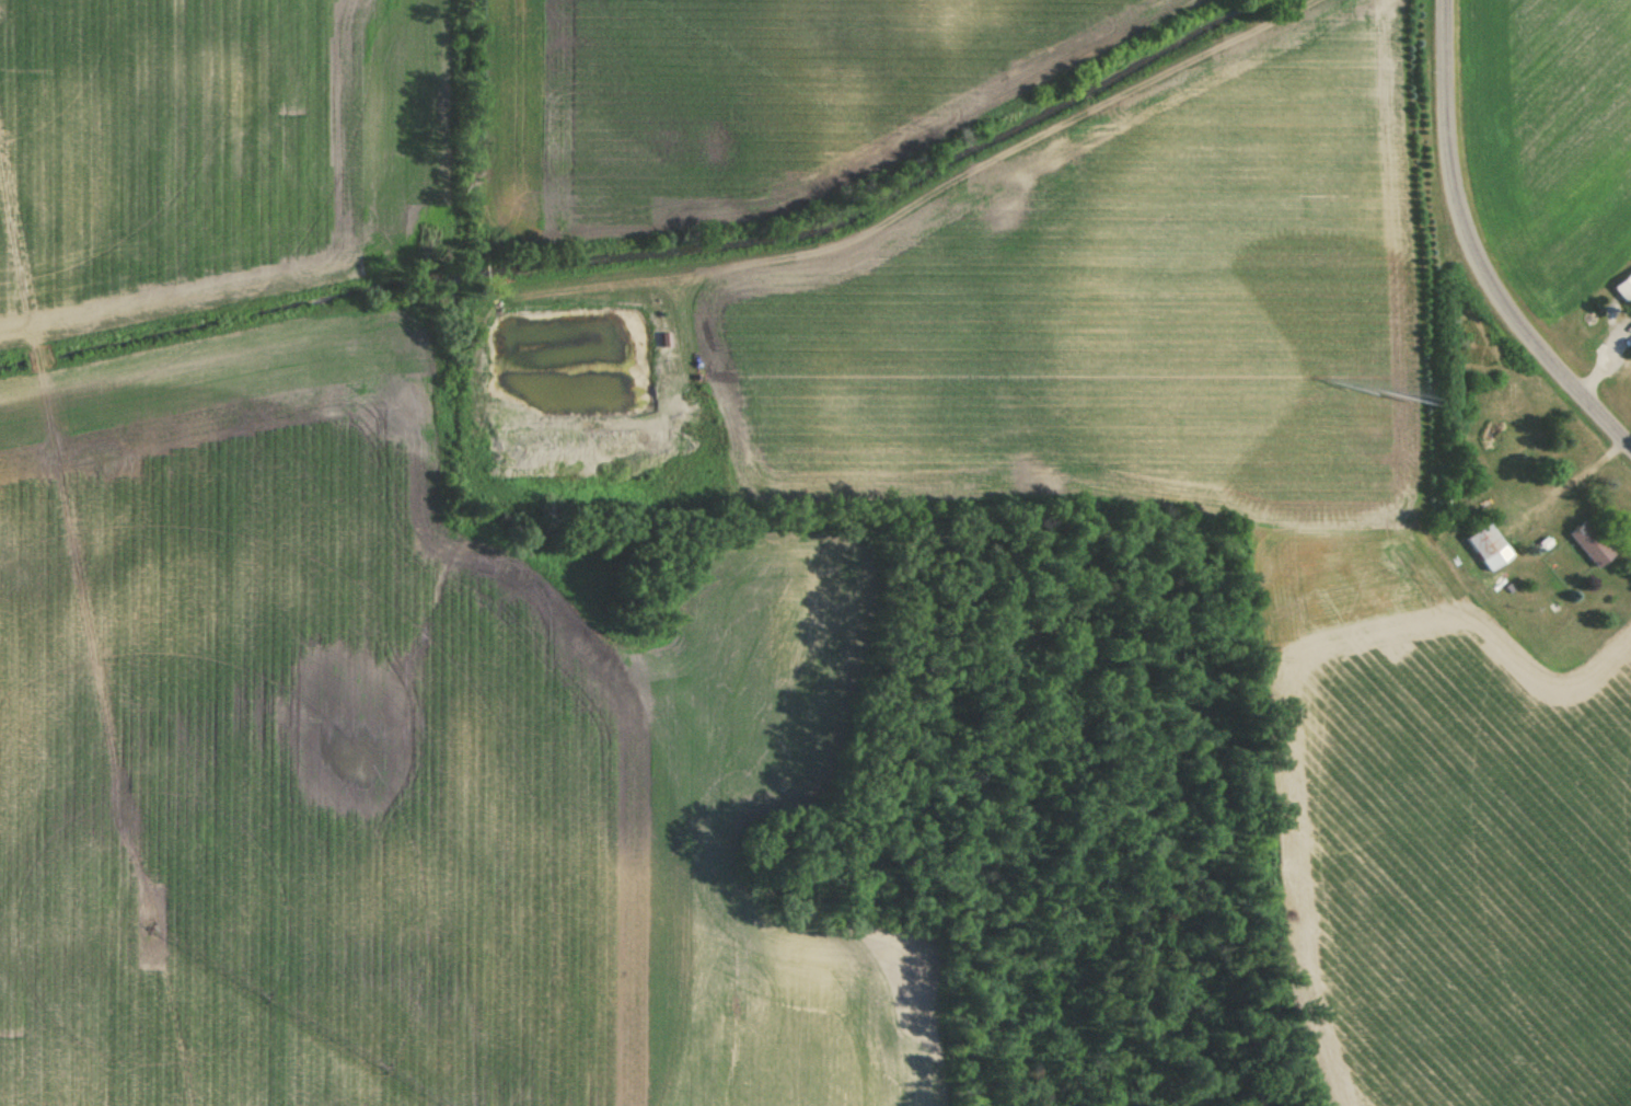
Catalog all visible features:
road: (1471, 250)
building: (1622, 291)
building: (1586, 545)
building: (1484, 548)

